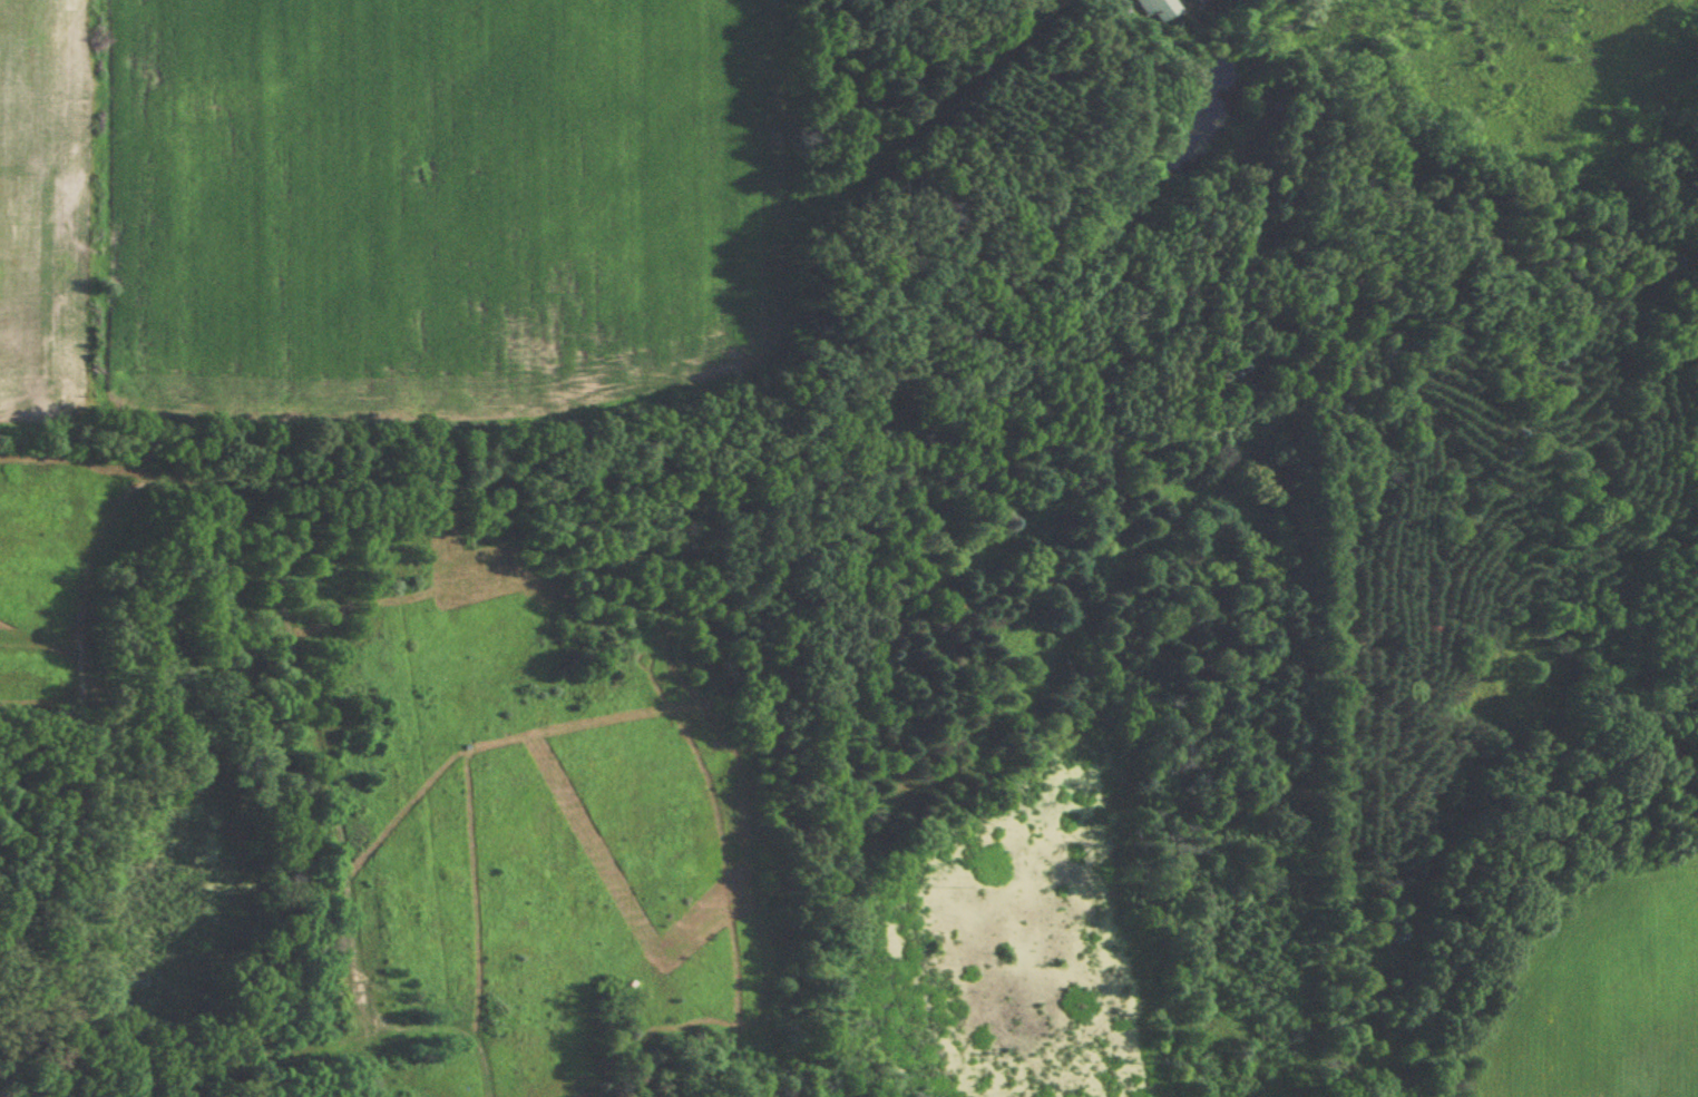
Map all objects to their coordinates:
building: (1158, 9)

